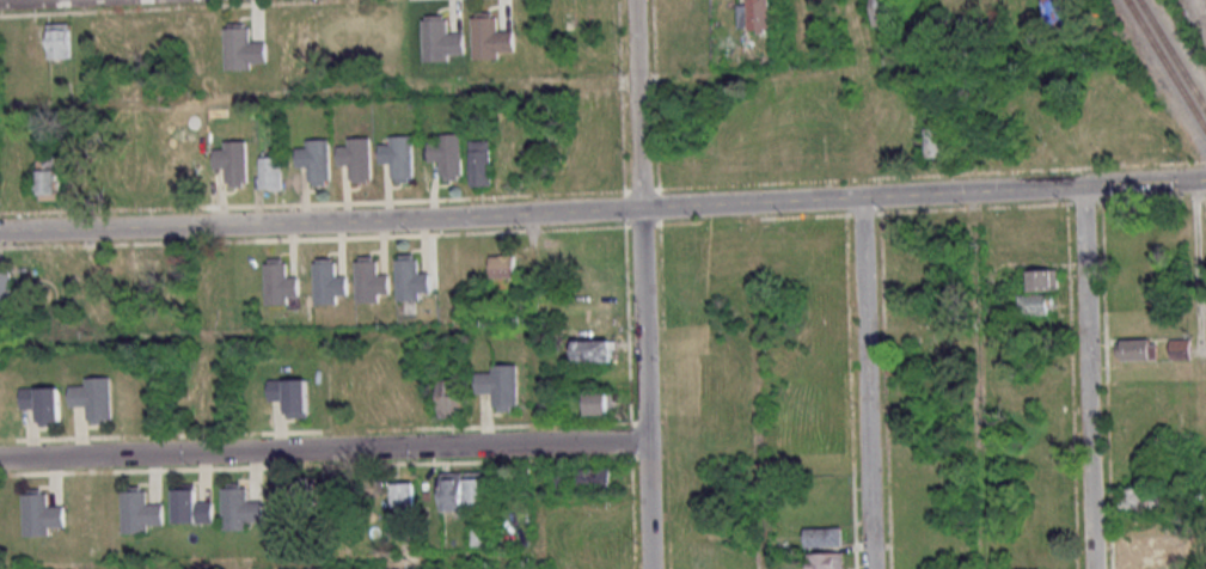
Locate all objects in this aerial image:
building: (1005, 11)
building: (1057, 11)
building: (882, 12)
building: (753, 16)
building: (491, 37)
building: (441, 38)
building: (60, 41)
building: (243, 48)
railway: (1174, 54)
railway: (1167, 65)
road: (562, 84)
building: (935, 142)
building: (447, 155)
building: (398, 158)
building: (356, 159)
building: (316, 160)
building: (479, 161)
building: (233, 163)
building: (271, 172)
building: (49, 179)
road: (602, 210)
building: (502, 264)
road: (1198, 264)
building: (151, 274)
building: (411, 279)
building: (369, 280)
building: (1042, 280)
building: (329, 281)
building: (6, 282)
building: (280, 282)
road: (641, 283)
building: (1034, 304)
road: (267, 334)
building: (1137, 349)
building: (1180, 349)
building: (592, 350)
road: (1085, 378)
road: (978, 380)
road: (864, 384)
building: (500, 386)
road: (758, 386)
road: (535, 391)
building: (290, 396)
building: (452, 398)
building: (93, 399)
building: (598, 403)
building: (42, 404)
road: (322, 449)
building: (593, 478)
building: (478, 489)
building: (452, 491)
building: (404, 494)
building: (305, 496)
building: (1139, 497)
building: (192, 506)
building: (241, 507)
building: (141, 510)
building: (41, 513)
building: (822, 537)
building: (1145, 547)
building: (826, 561)
road: (287, 562)
building: (1144, 568)

